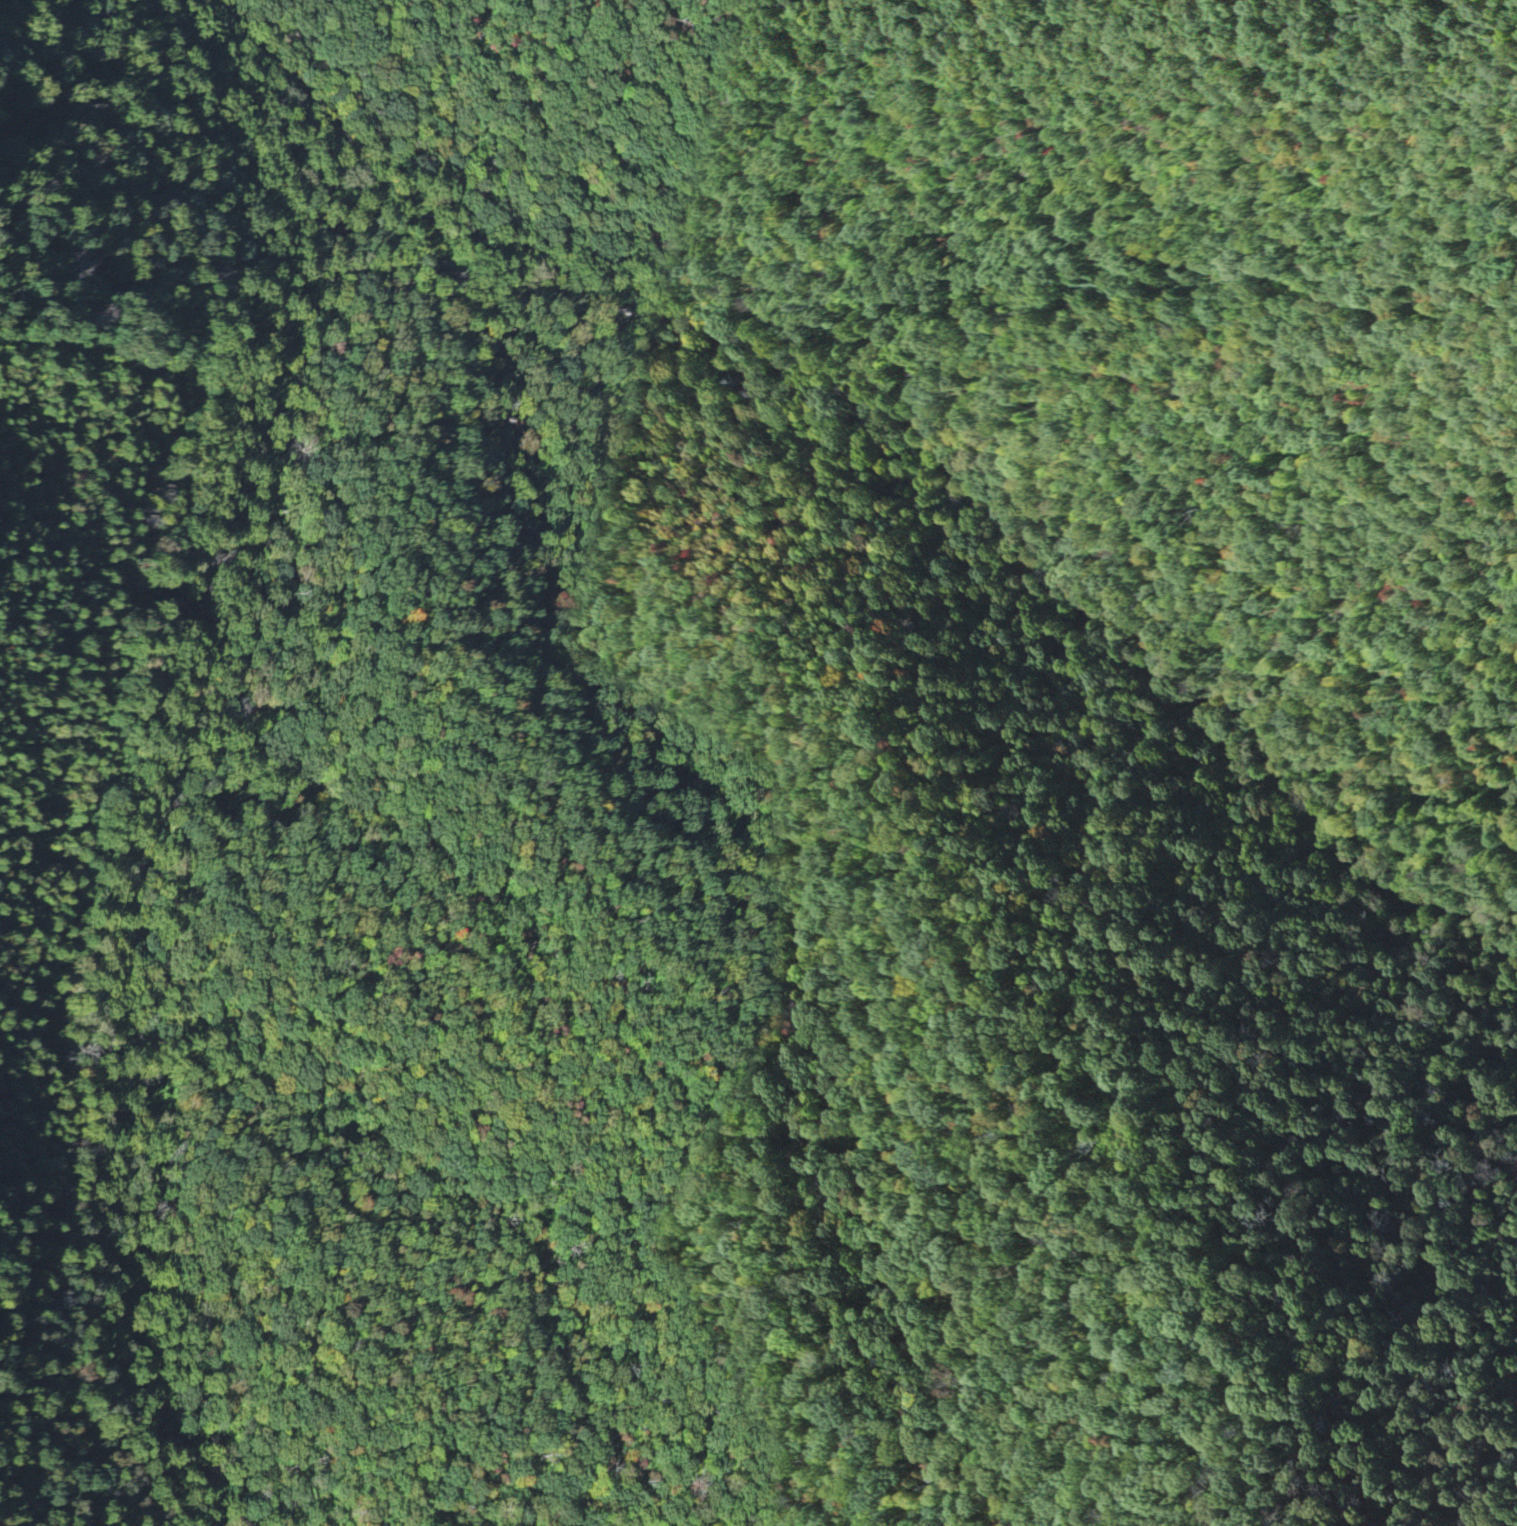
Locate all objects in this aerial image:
road: (1278, 1492)

